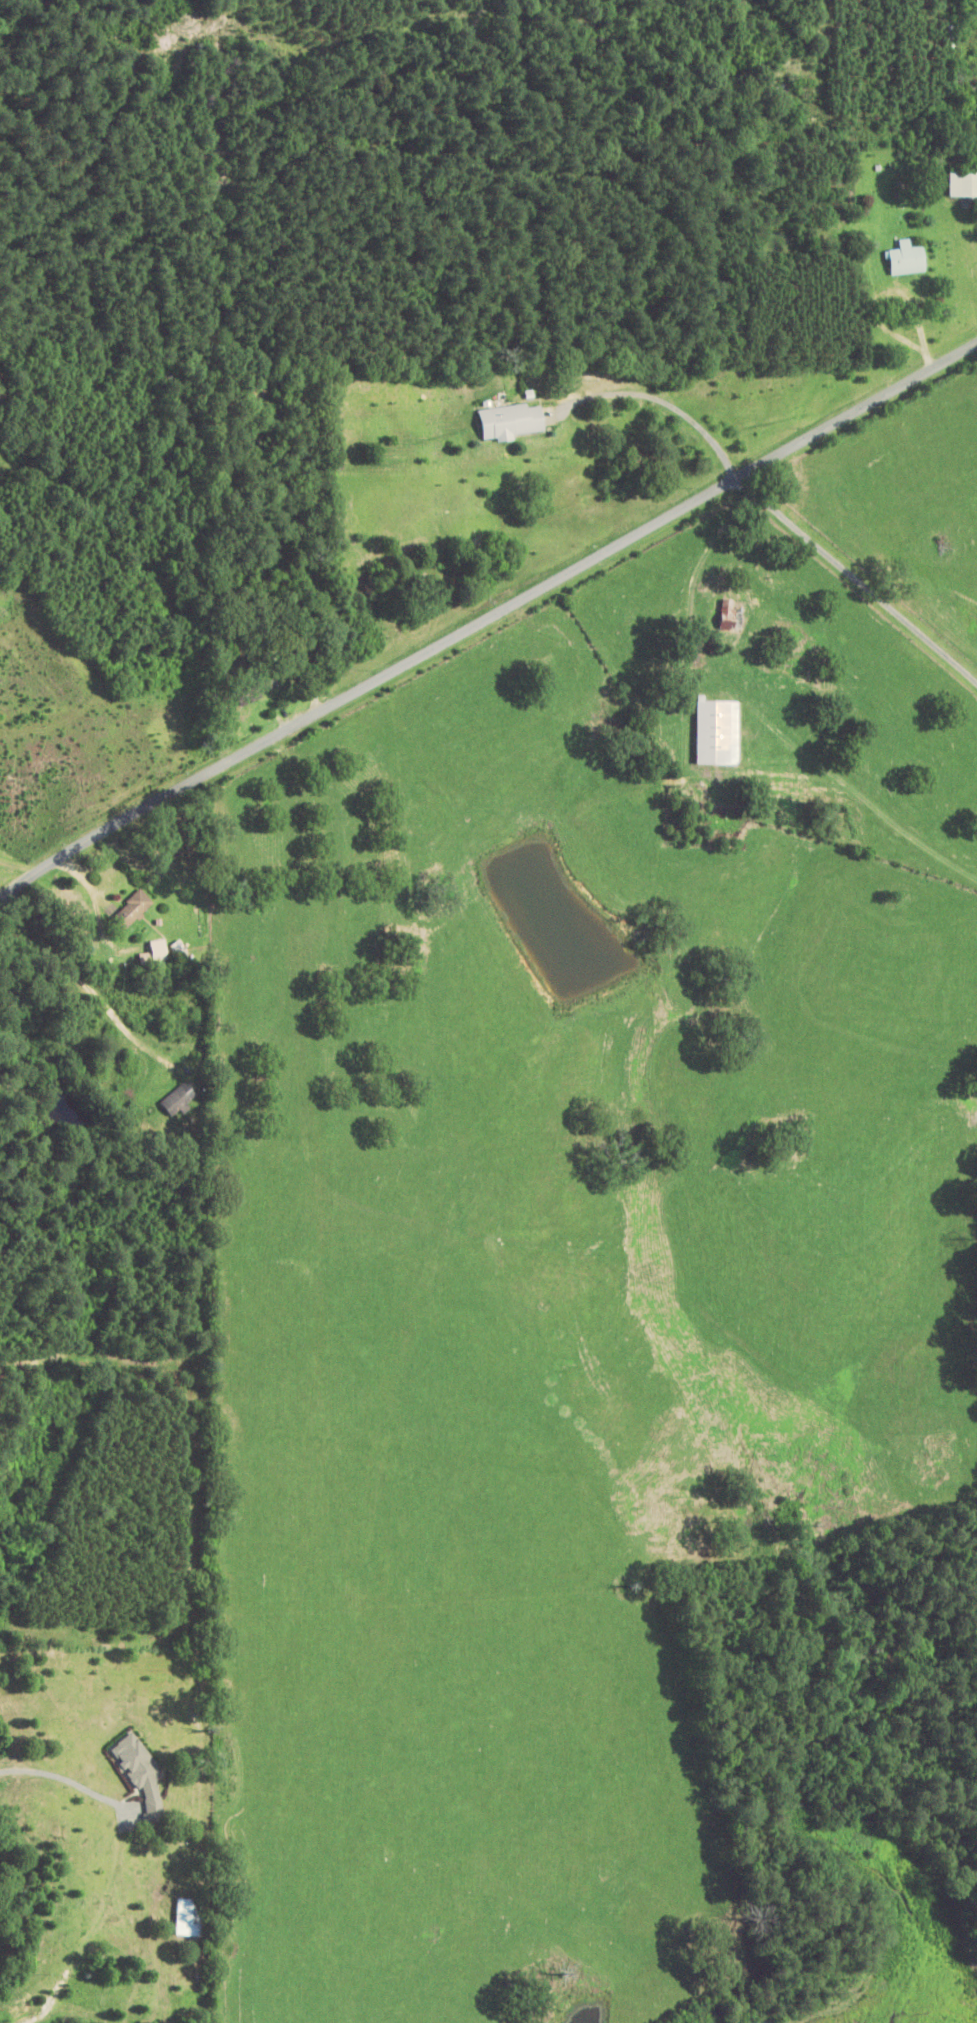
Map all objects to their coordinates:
building: (967, 82)
building: (963, 185)
building: (907, 260)
building: (511, 422)
building: (727, 615)
road: (485, 620)
building: (233, 658)
building: (252, 690)
building: (717, 733)
building: (133, 911)
building: (156, 955)
building: (178, 1100)
building: (142, 1775)

